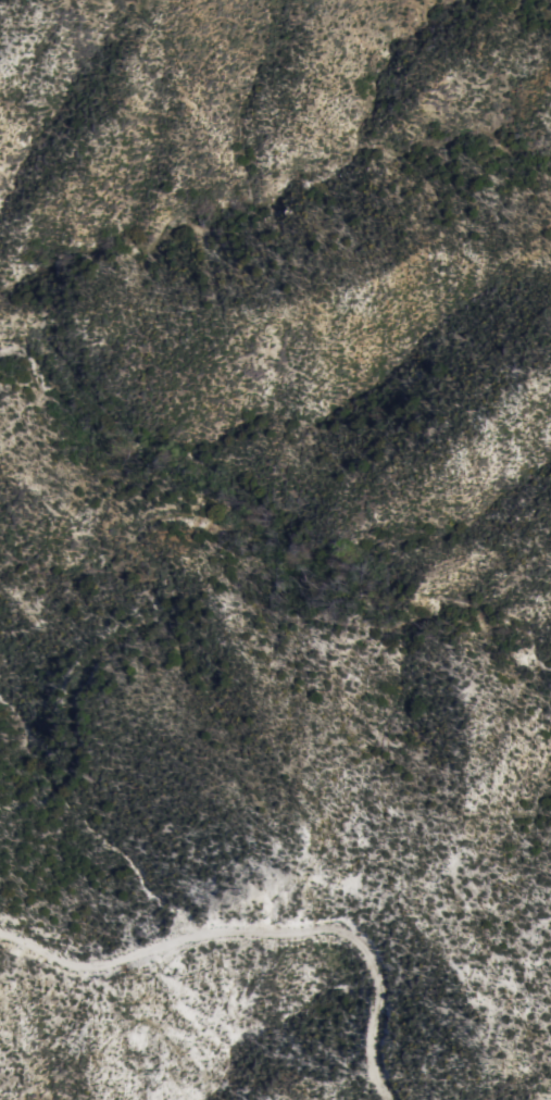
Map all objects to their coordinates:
road: (256, 935)

